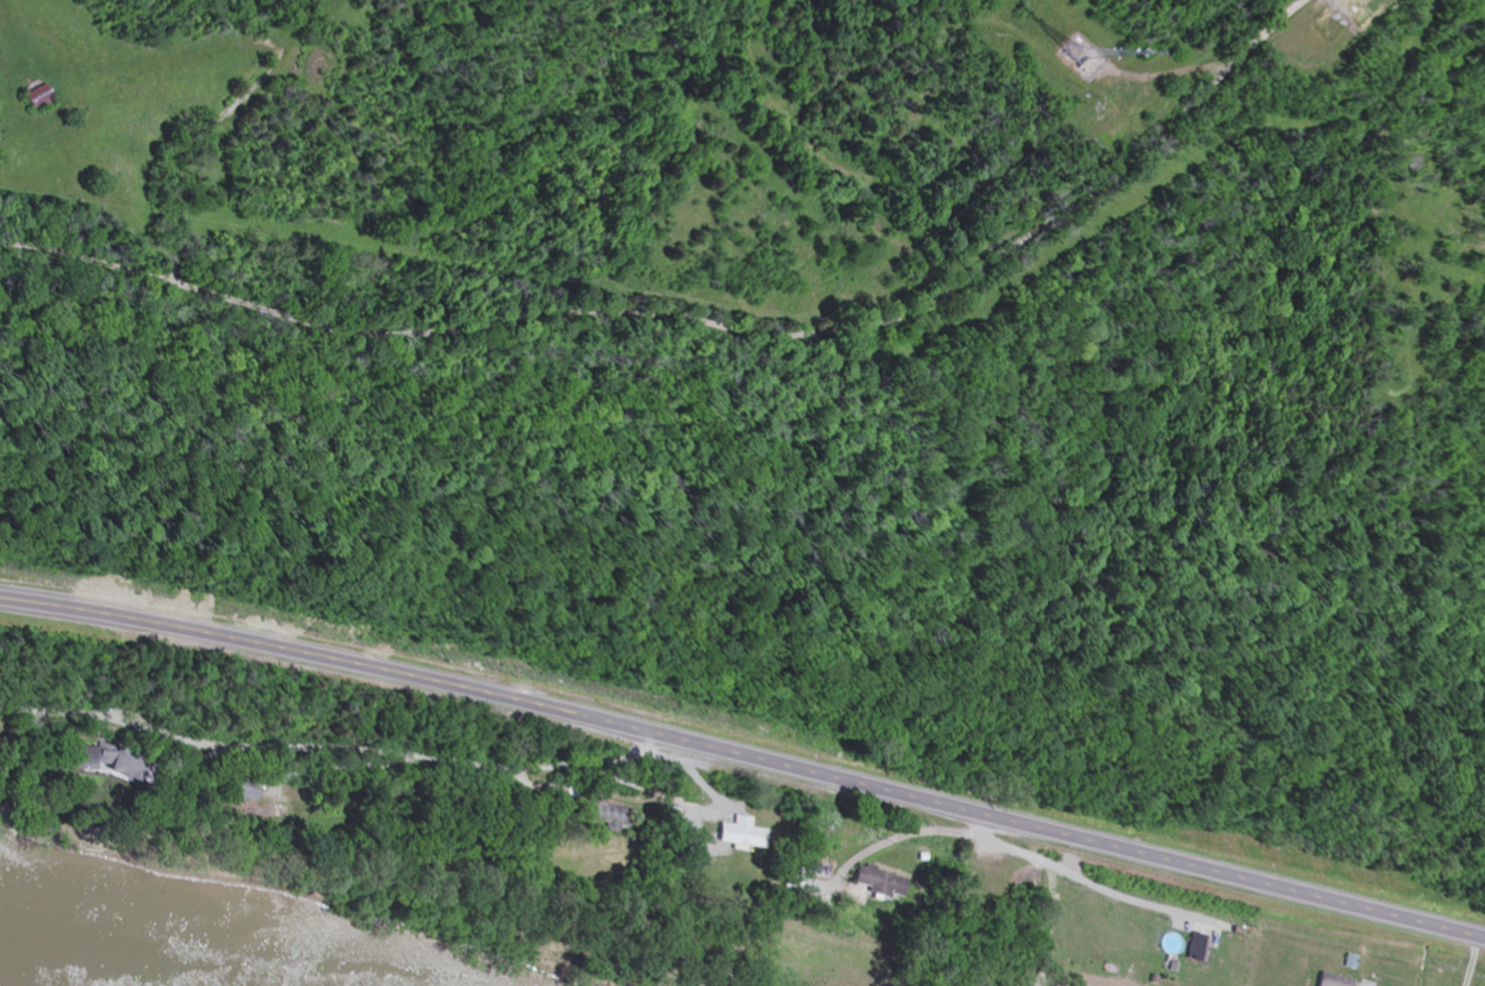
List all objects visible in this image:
building: (35, 99)
road: (688, 278)
road: (347, 743)
road: (744, 756)
building: (84, 758)
building: (241, 789)
building: (611, 816)
building: (739, 836)
building: (881, 884)
building: (1199, 950)
building: (1351, 963)

